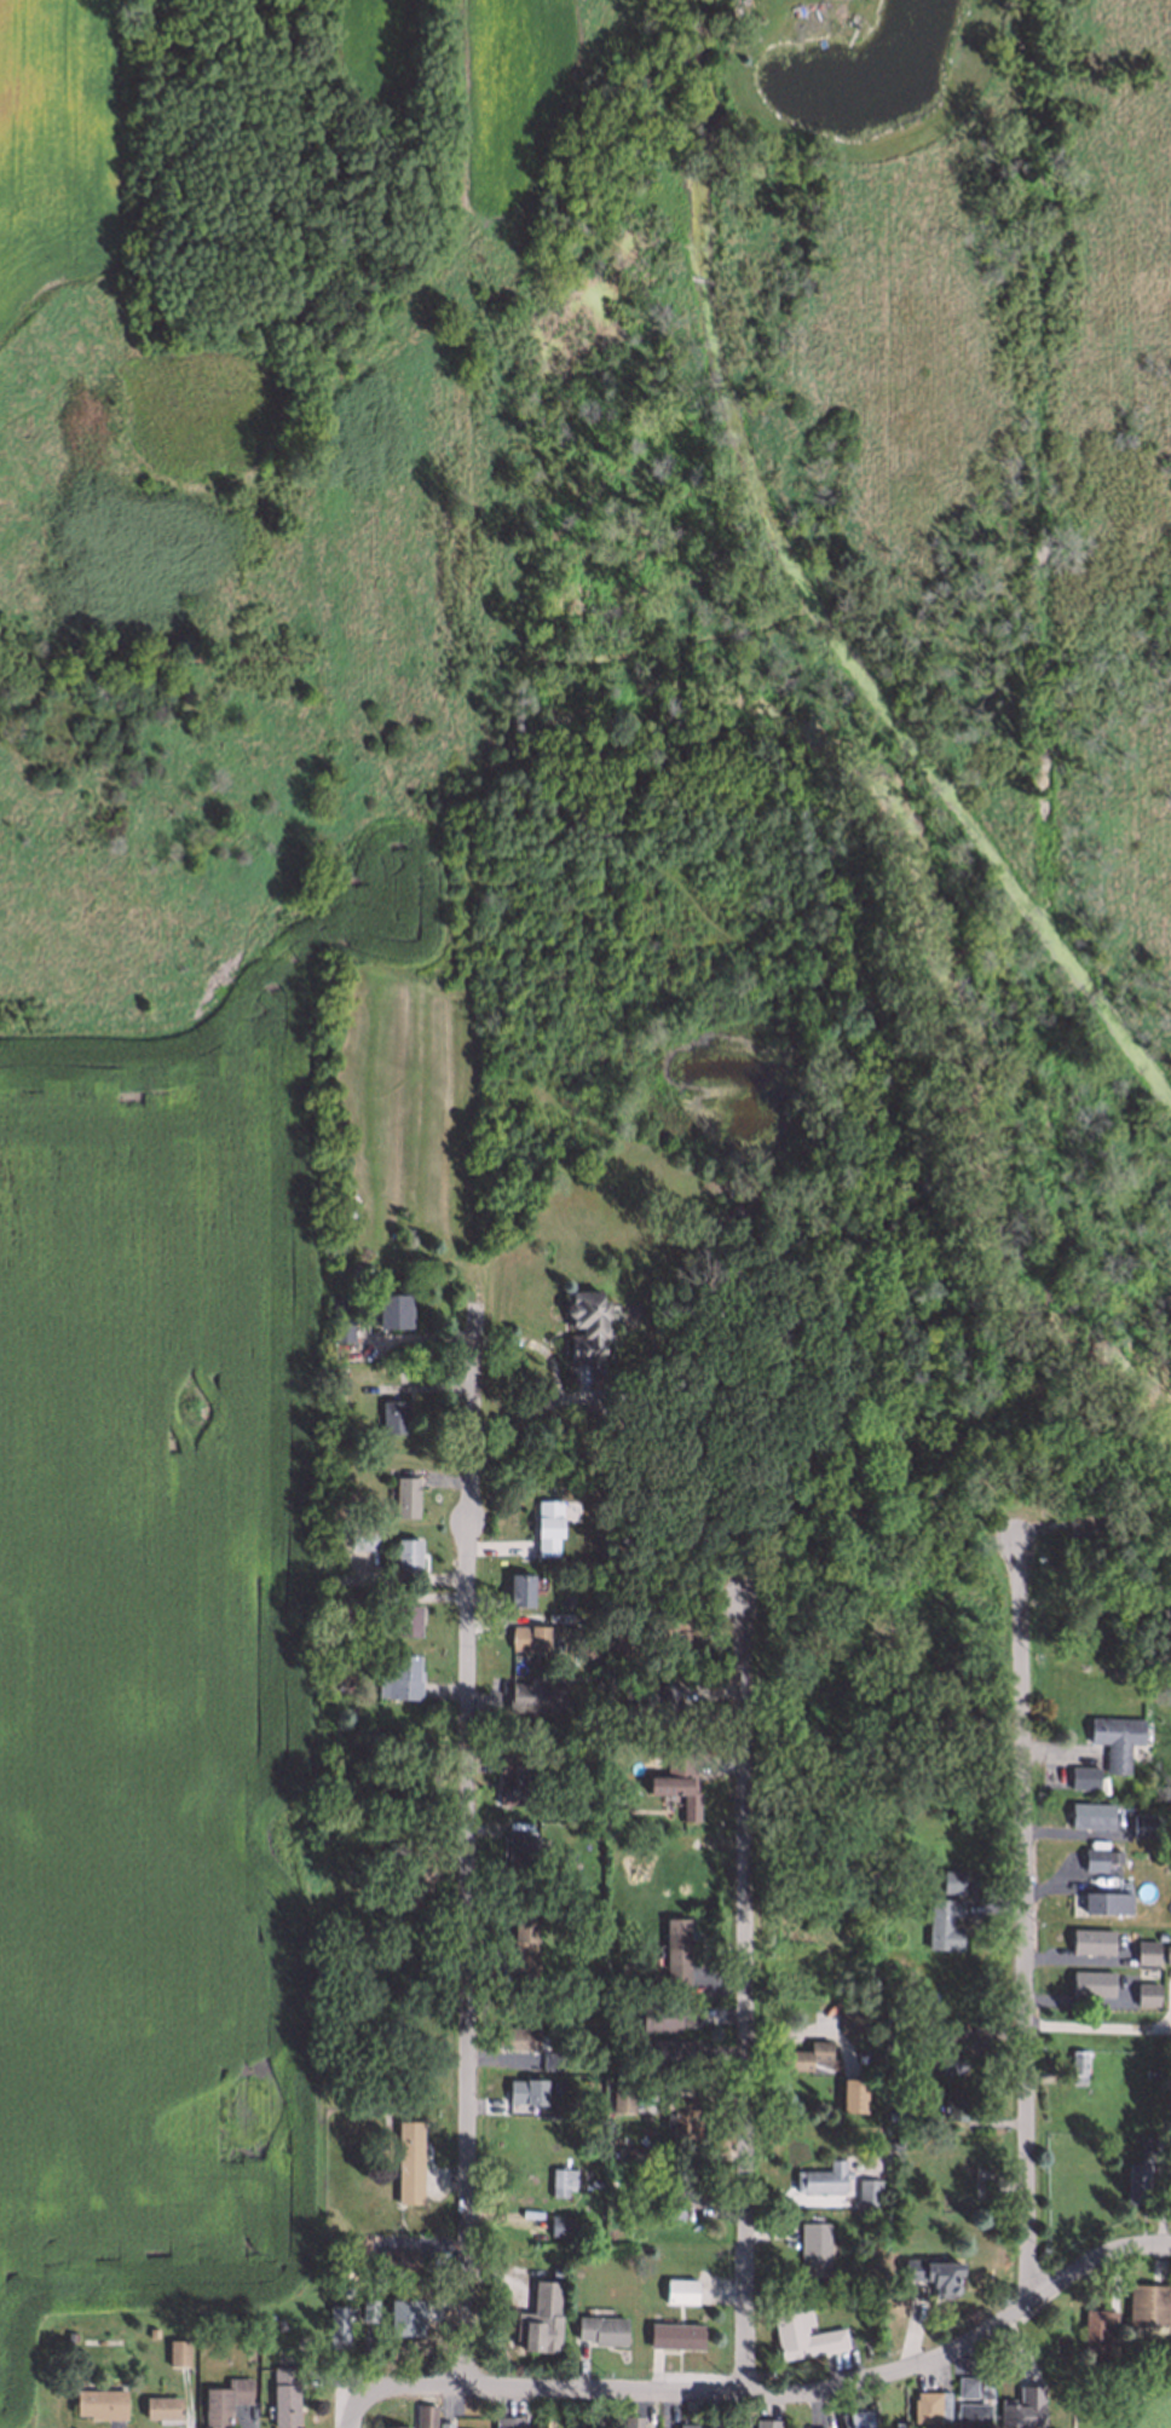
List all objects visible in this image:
building: (392, 1309)
building: (339, 1320)
building: (587, 1321)
road: (559, 1390)
building: (392, 1415)
building: (405, 1494)
building: (547, 1526)
building: (405, 1552)
building: (587, 1563)
building: (519, 1587)
building: (353, 1599)
building: (406, 1617)
building: (529, 1636)
building: (400, 1676)
building: (598, 1684)
building: (535, 1695)
building: (657, 1706)
building: (1114, 1737)
building: (1083, 1775)
building: (518, 1781)
building: (677, 1782)
building: (615, 1806)
building: (1089, 1813)
building: (1141, 1824)
road: (468, 1832)
building: (394, 1847)
building: (520, 1853)
building: (1098, 1857)
building: (951, 1879)
building: (414, 1882)
building: (1103, 1901)
road: (1023, 1920)
building: (944, 1921)
building: (521, 1927)
building: (1090, 1939)
building: (676, 1948)
building: (1166, 1948)
building: (1144, 1949)
building: (521, 1962)
building: (795, 1978)
building: (1090, 1982)
building: (1144, 1992)
road: (744, 1999)
building: (665, 2014)
building: (852, 2018)
road: (1100, 2029)
building: (951, 2031)
building: (519, 2036)
building: (664, 2051)
building: (802, 2054)
building: (550, 2059)
building: (945, 2060)
building: (1078, 2064)
building: (606, 2067)
building: (525, 2088)
building: (852, 2093)
building: (621, 2097)
building: (954, 2103)
building: (890, 2113)
building: (680, 2117)
building: (1149, 2141)
building: (890, 2142)
building: (634, 2151)
building: (408, 2159)
building: (821, 2176)
building: (561, 2180)
building: (594, 2181)
building: (1133, 2182)
building: (682, 2184)
building: (866, 2190)
building: (607, 2193)
building: (559, 2224)
building: (356, 2247)
building: (813, 2247)
building: (569, 2255)
building: (399, 2260)
building: (933, 2270)
building: (344, 2286)
building: (679, 2290)
building: (406, 2291)
building: (1146, 2302)
building: (368, 2308)
building: (549, 2315)
building: (406, 2318)
building: (277, 2322)
building: (249, 2323)
building: (336, 2325)
building: (600, 2328)
building: (150, 2330)
building: (1095, 2330)
building: (673, 2331)
building: (411, 2334)
building: (801, 2334)
building: (69, 2335)
building: (175, 2351)
building: (999, 2360)
building: (964, 2384)
road: (766, 2393)
building: (283, 2394)
building: (223, 2399)
building: (100, 2401)
building: (160, 2405)
building: (928, 2405)
building: (974, 2406)
building: (1009, 2413)
building: (423, 2415)
building: (854, 2418)
building: (517, 2420)
building: (629, 2421)
building: (713, 2422)
building: (765, 2422)
building: (895, 2423)
building: (443, 2424)
building: (685, 2424)
building: (390, 2426)
building: (804, 2427)

